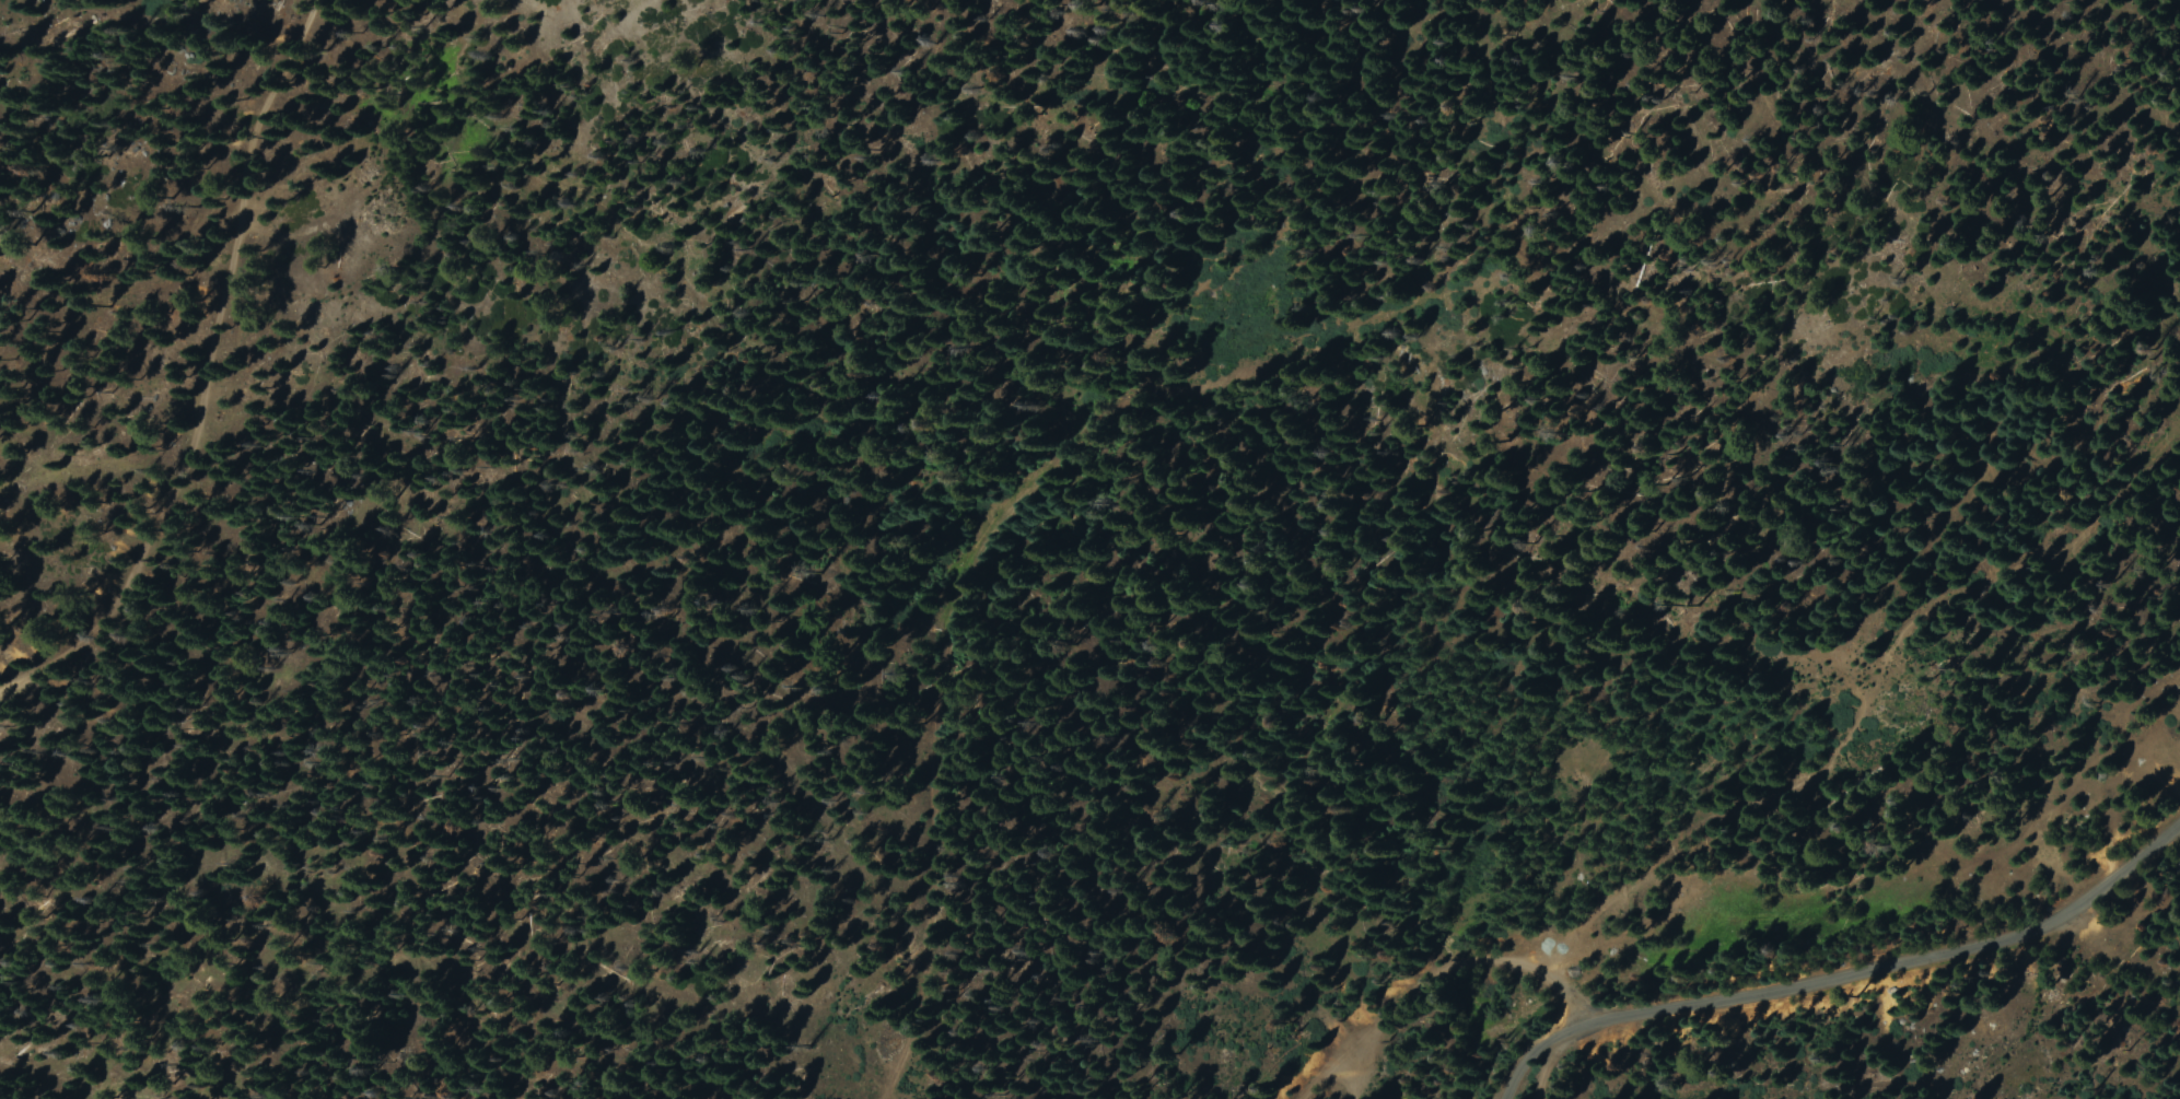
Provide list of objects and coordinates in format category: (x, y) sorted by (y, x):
road: (194, 369)
road: (1898, 962)
road: (1474, 964)
road: (1563, 1033)
road: (1324, 1069)
road: (1355, 1069)
road: (1522, 1072)
road: (1543, 1073)

